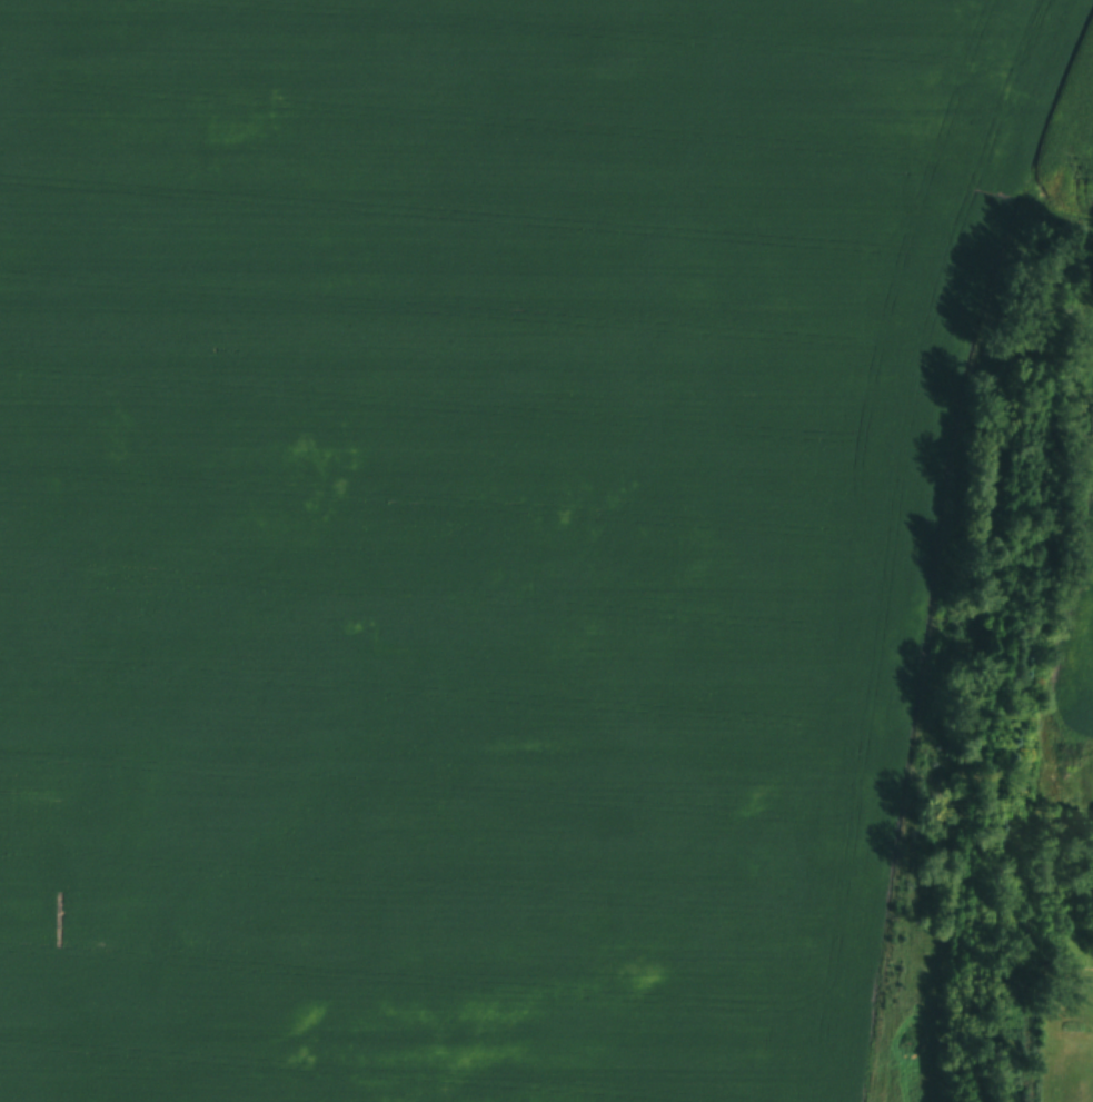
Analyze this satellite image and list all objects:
road: (1092, 808)

